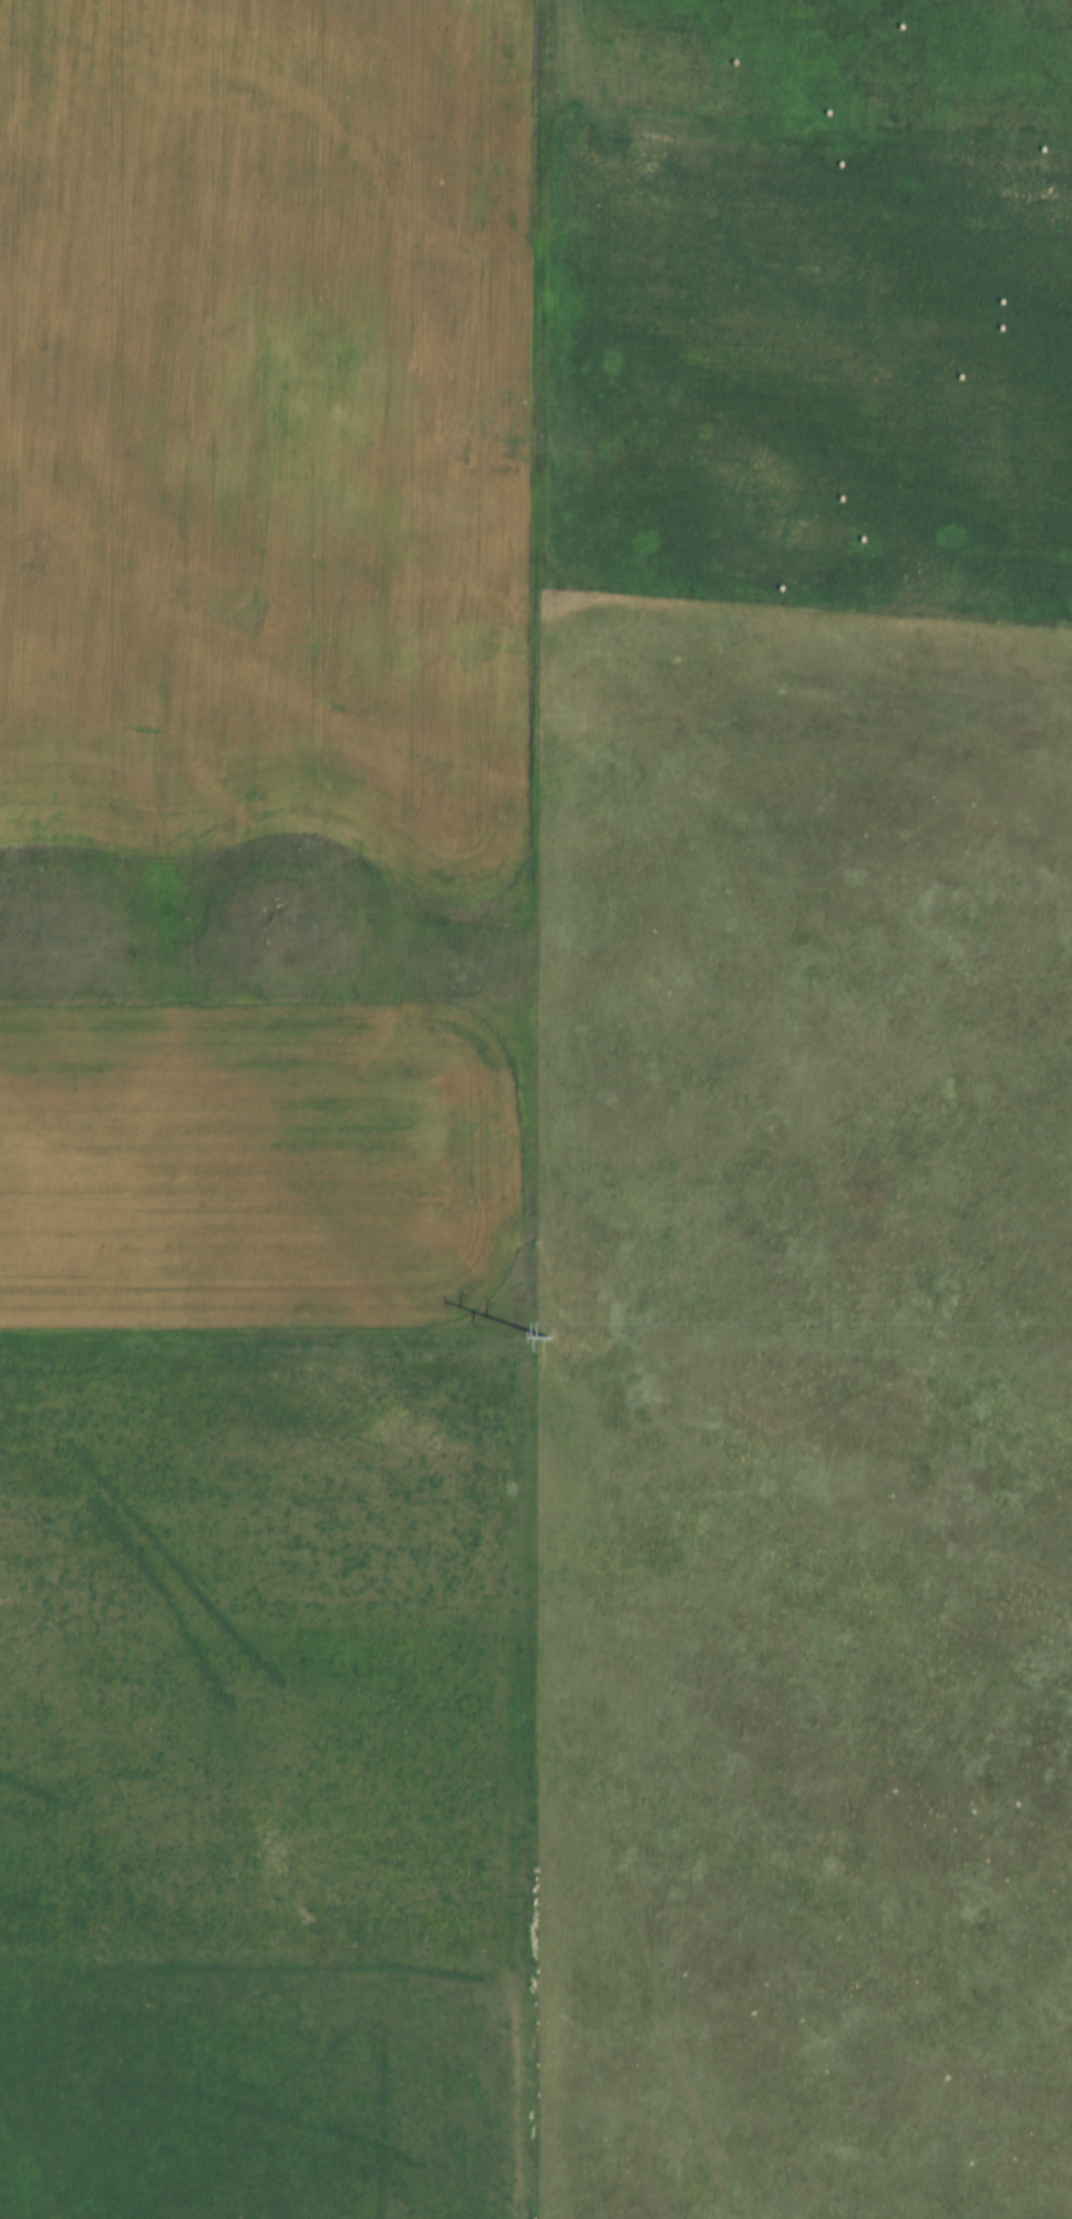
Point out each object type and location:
power tower: (546, 1331)
road: (524, 1786)

